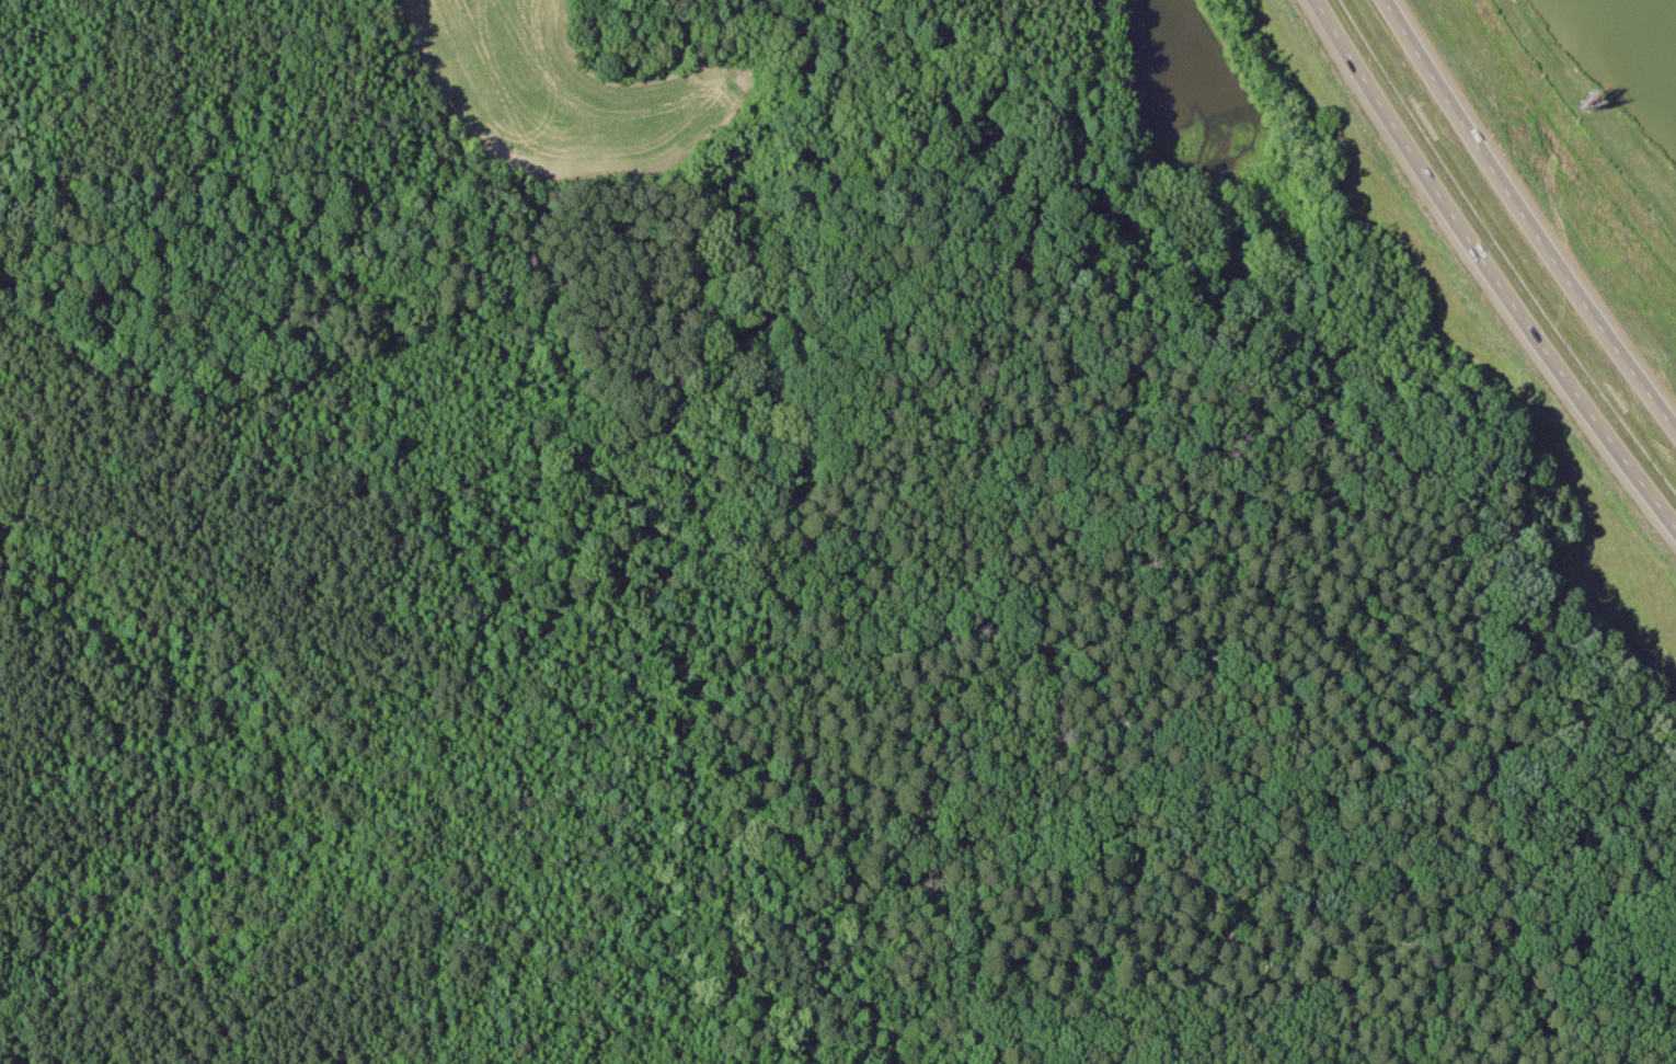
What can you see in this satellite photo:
road: (1525, 208)
road: (1488, 261)

